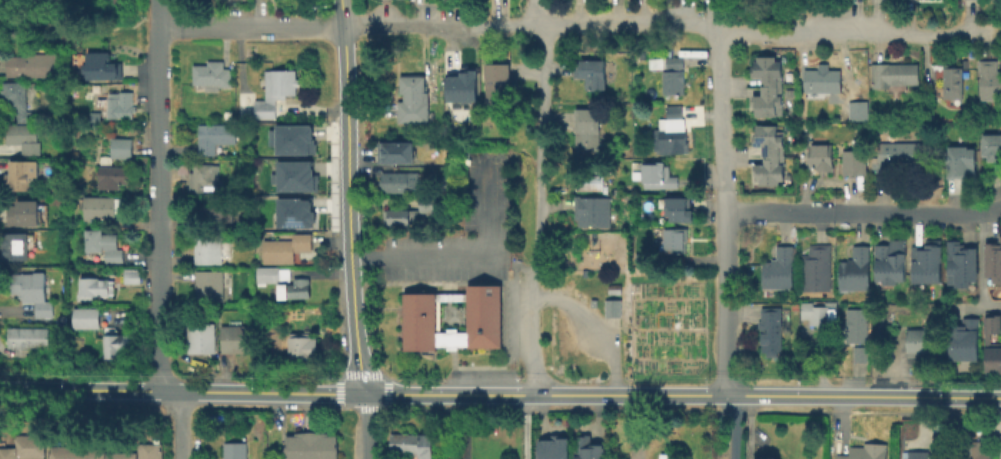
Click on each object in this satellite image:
building: (976, 0)
building: (121, 1)
road: (535, 12)
road: (341, 13)
road: (352, 13)
road: (663, 21)
road: (249, 27)
road: (79, 35)
building: (32, 65)
building: (100, 66)
road: (344, 69)
building: (897, 71)
building: (674, 73)
building: (589, 74)
building: (210, 75)
building: (825, 77)
building: (991, 78)
building: (956, 79)
building: (497, 81)
building: (770, 82)
building: (462, 86)
building: (791, 90)
building: (276, 92)
building: (412, 98)
building: (19, 100)
building: (119, 103)
building: (861, 105)
road: (719, 106)
building: (94, 116)
building: (587, 129)
building: (216, 137)
building: (670, 138)
building: (27, 140)
building: (296, 140)
building: (992, 142)
road: (541, 148)
building: (770, 150)
building: (821, 153)
building: (899, 153)
building: (399, 155)
building: (962, 156)
building: (855, 158)
building: (105, 163)
road: (345, 172)
building: (657, 173)
building: (23, 175)
building: (203, 177)
building: (298, 177)
building: (400, 182)
building: (440, 185)
road: (157, 195)
building: (425, 205)
building: (102, 207)
building: (215, 208)
building: (683, 211)
building: (21, 213)
building: (593, 213)
building: (298, 214)
road: (861, 214)
building: (396, 217)
building: (675, 241)
building: (12, 246)
building: (102, 247)
building: (208, 248)
building: (286, 249)
road: (465, 258)
building: (890, 258)
building: (926, 258)
building: (992, 259)
building: (960, 260)
building: (816, 266)
building: (779, 267)
building: (855, 268)
building: (129, 276)
building: (269, 277)
building: (209, 285)
building: (92, 288)
building: (294, 289)
building: (616, 290)
building: (33, 292)
building: (584, 301)
building: (595, 304)
road: (724, 304)
building: (614, 309)
road: (351, 312)
building: (816, 312)
building: (419, 313)
building: (87, 318)
building: (857, 323)
road: (596, 325)
building: (770, 329)
road: (530, 334)
building: (963, 337)
building: (31, 338)
building: (201, 338)
building: (237, 338)
building: (918, 340)
building: (992, 342)
building: (298, 345)
building: (117, 346)
building: (861, 353)
road: (181, 390)
traffic signals: (363, 392)
road: (682, 394)
road: (183, 404)
road: (683, 407)
road: (178, 423)
road: (366, 425)
road: (528, 426)
road: (730, 426)
building: (411, 444)
building: (552, 446)
building: (999, 446)
building: (24, 447)
building: (314, 447)
building: (587, 447)
building: (234, 450)
building: (974, 450)
building: (147, 451)
building: (863, 451)
building: (86, 453)
building: (917, 453)

